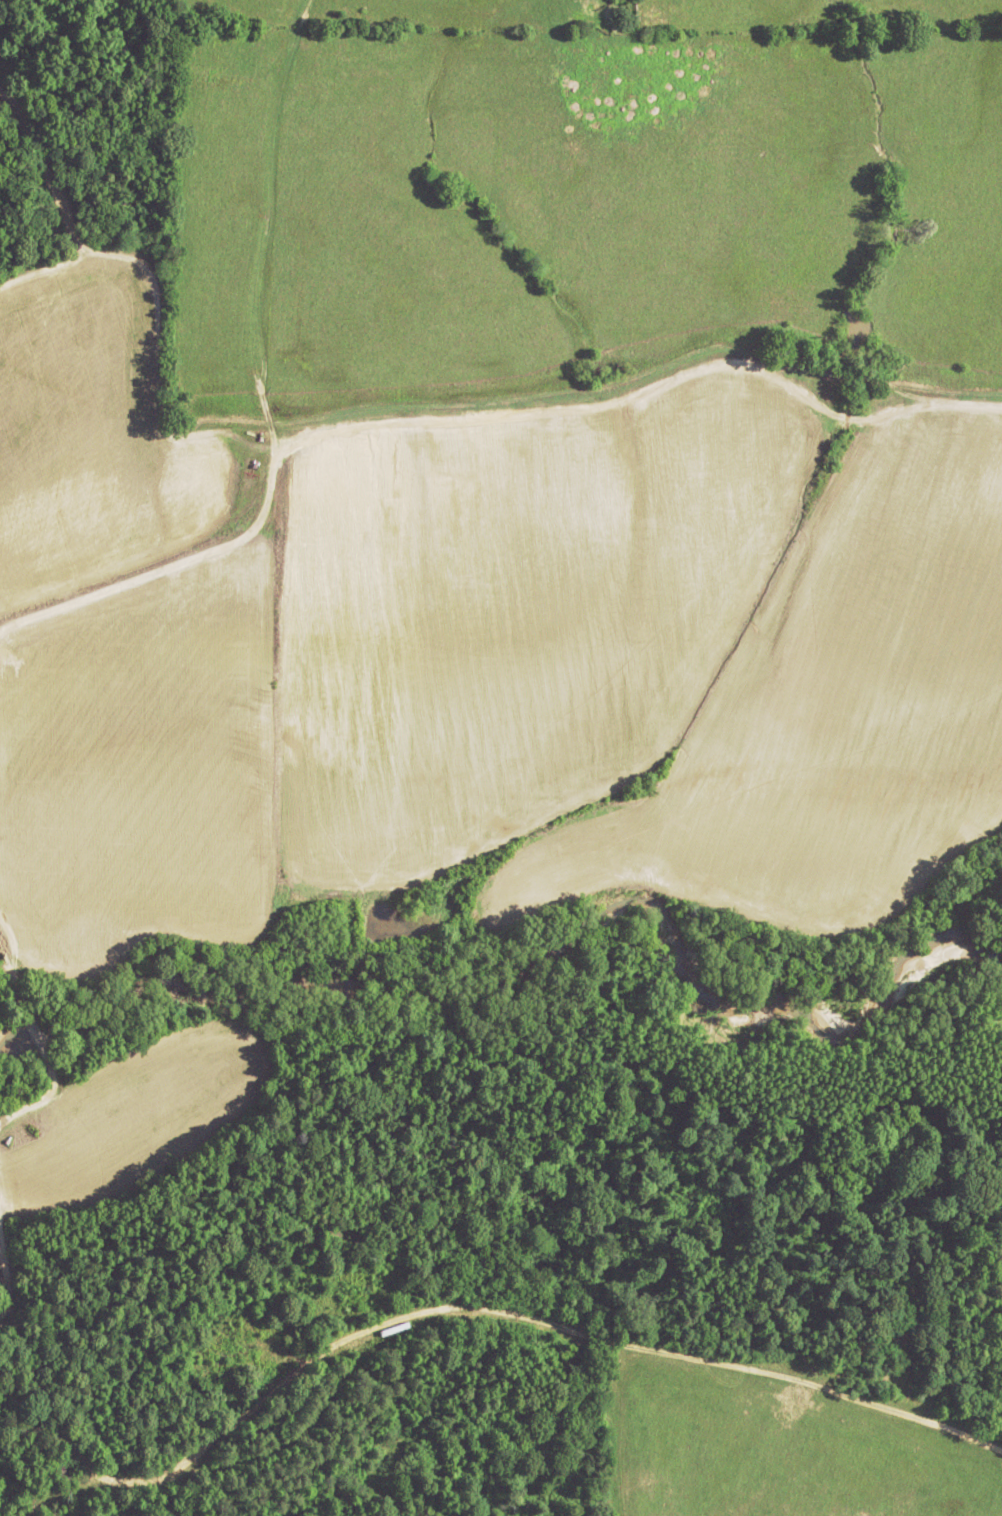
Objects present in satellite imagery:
road: (409, 1348)

